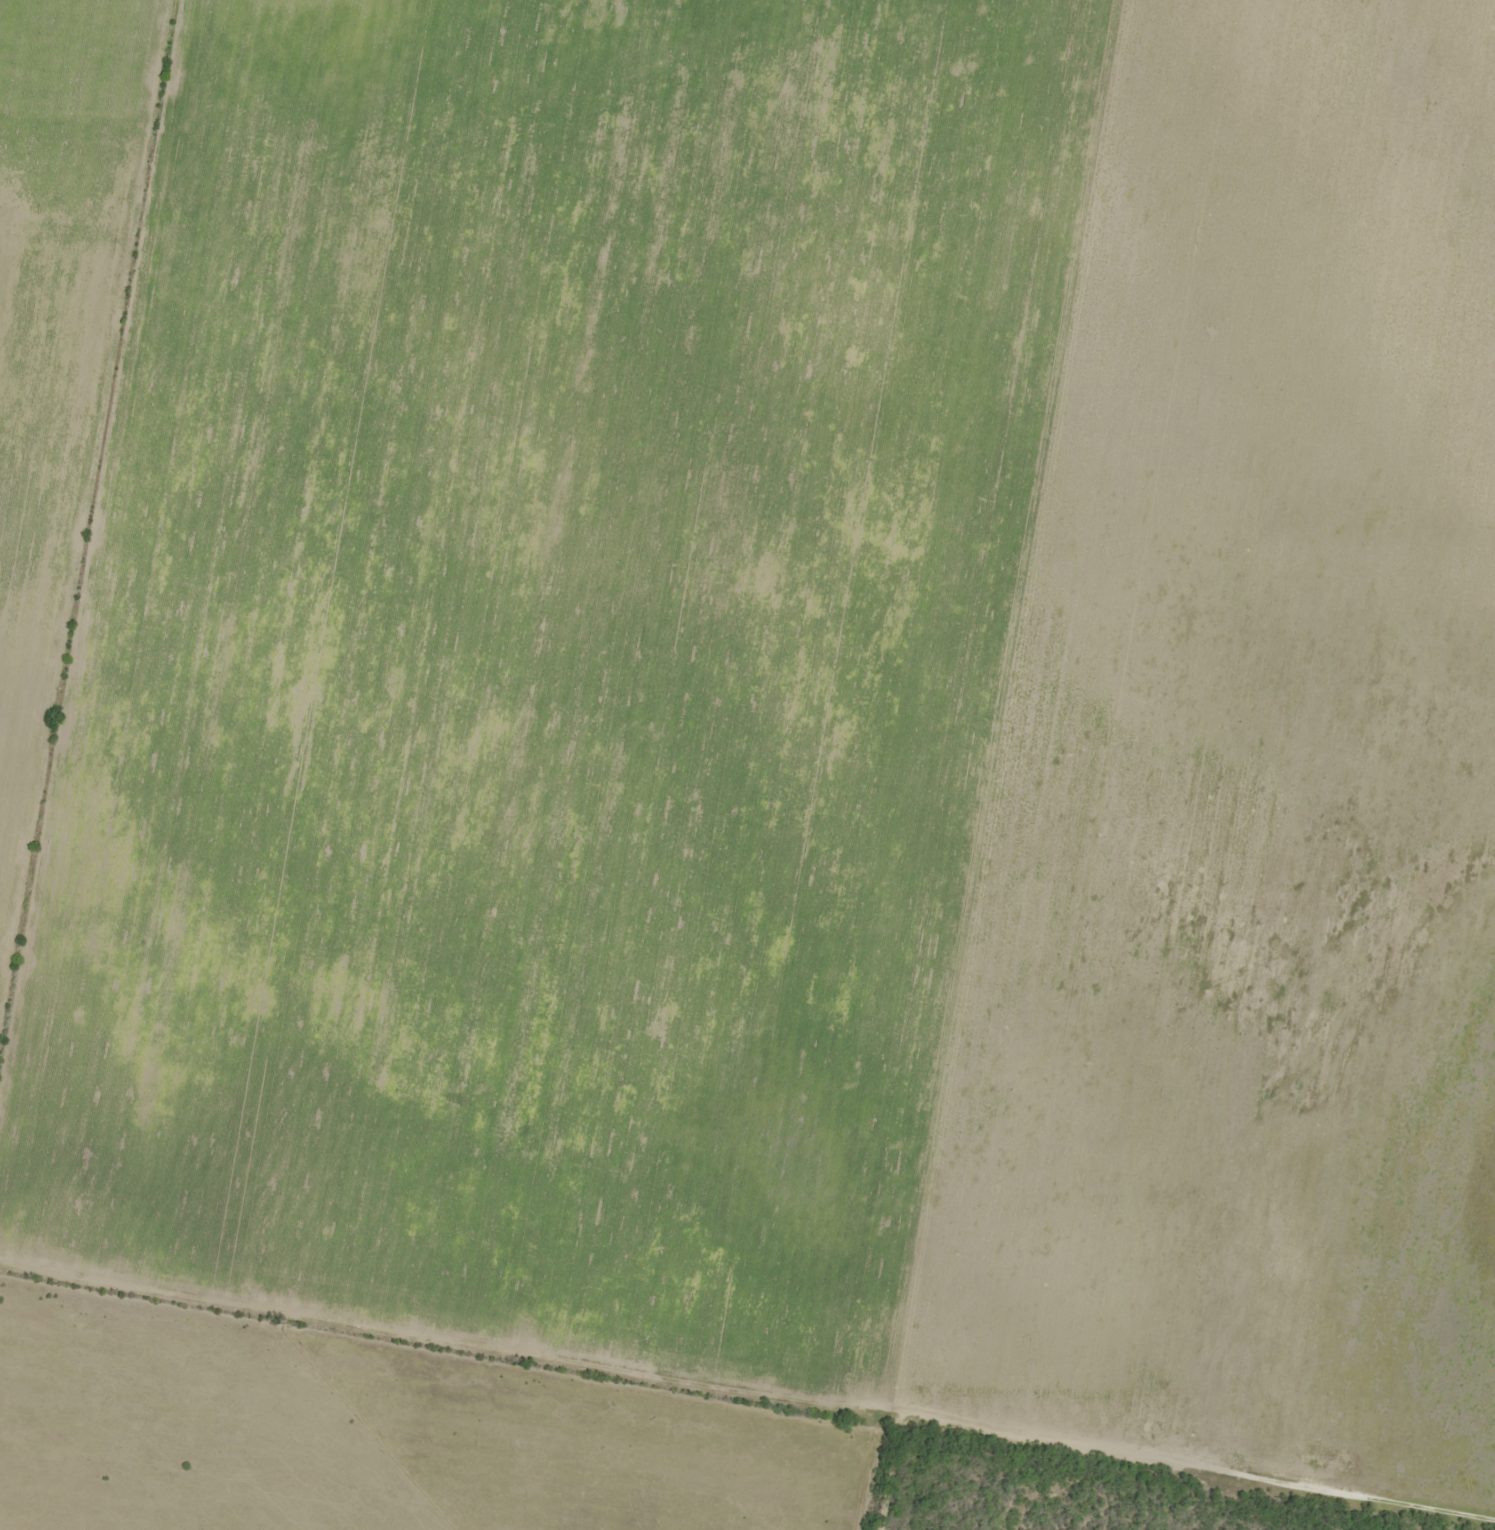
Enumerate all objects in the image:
road: (1366, 544)
road: (1249, 584)
building: (1119, 1184)

